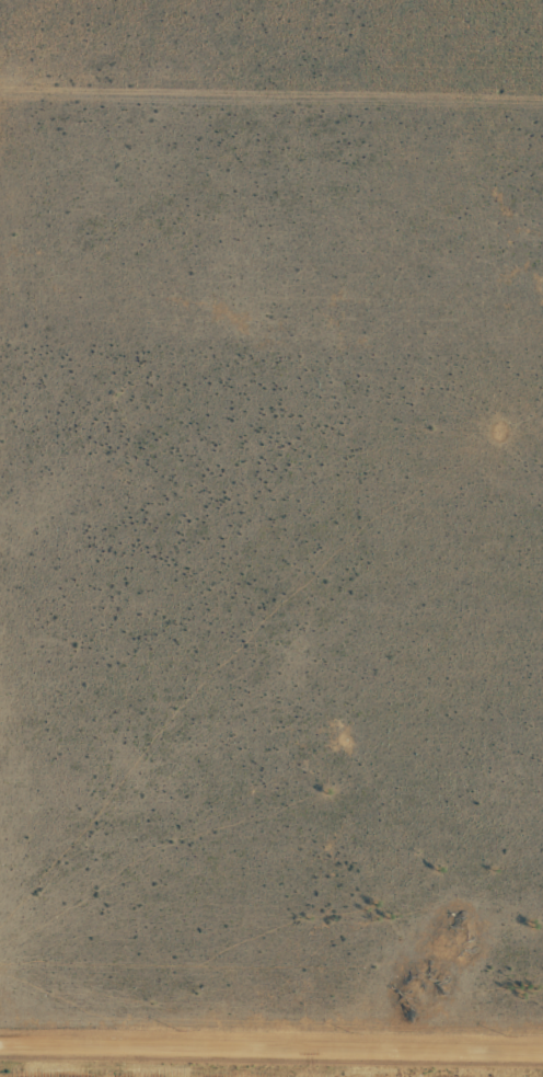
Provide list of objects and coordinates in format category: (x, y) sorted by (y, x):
road: (270, 1052)

